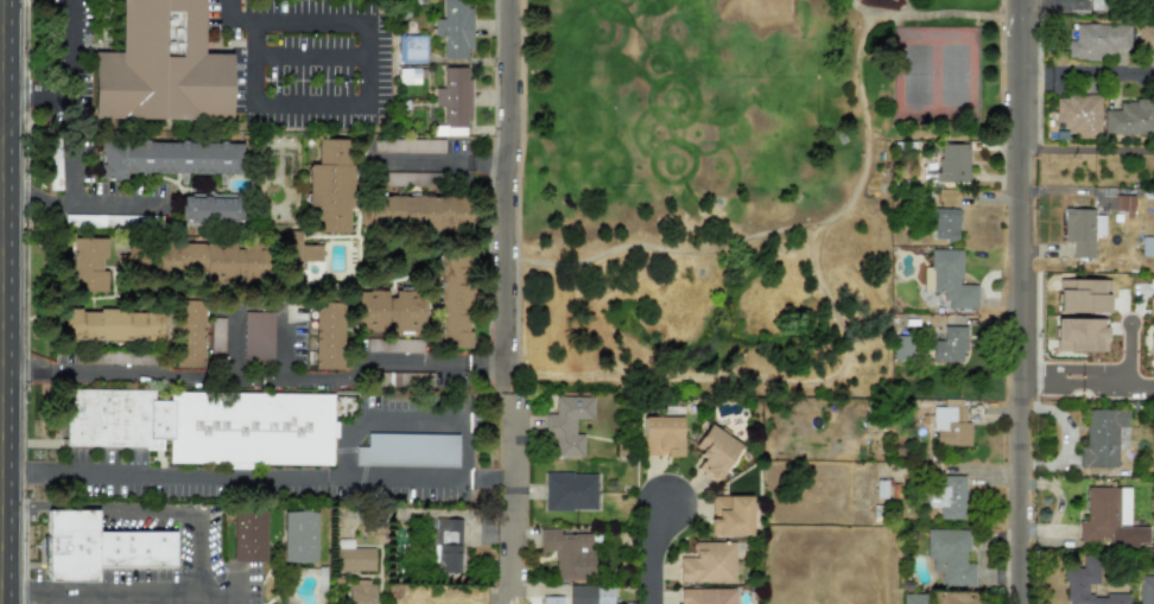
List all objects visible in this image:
road: (852, 2)
road: (926, 15)
building: (455, 27)
building: (1146, 37)
building: (1097, 39)
building: (411, 49)
road: (297, 51)
building: (160, 66)
park: (917, 72)
park: (953, 72)
road: (376, 74)
building: (408, 75)
road: (1088, 78)
road: (75, 83)
building: (454, 94)
building: (1078, 114)
building: (1130, 119)
building: (405, 145)
road: (1031, 147)
road: (1097, 148)
building: (167, 158)
building: (952, 161)
road: (446, 163)
building: (53, 179)
park: (727, 183)
building: (330, 184)
road: (74, 185)
road: (509, 193)
building: (1123, 202)
road: (109, 203)
building: (210, 210)
building: (413, 211)
building: (945, 223)
road: (778, 230)
building: (1082, 230)
building: (304, 252)
building: (216, 260)
building: (87, 263)
building: (947, 279)
building: (1083, 295)
building: (454, 301)
road: (1020, 301)
building: (387, 311)
building: (112, 325)
building: (188, 333)
building: (243, 333)
building: (328, 335)
road: (233, 345)
building: (394, 345)
building: (949, 345)
building: (1150, 345)
road: (280, 348)
building: (901, 348)
road: (1127, 352)
road: (1051, 368)
road: (255, 375)
road: (1105, 376)
road: (1129, 382)
road: (1051, 384)
building: (203, 424)
building: (568, 424)
building: (950, 426)
building: (661, 435)
building: (1103, 438)
road: (345, 449)
building: (407, 450)
building: (715, 451)
road: (169, 476)
road: (509, 476)
building: (569, 491)
building: (947, 496)
building: (729, 515)
building: (1109, 519)
building: (247, 536)
building: (298, 536)
building: (96, 541)
building: (446, 545)
road: (649, 552)
road: (207, 553)
building: (569, 553)
building: (353, 557)
building: (950, 557)
building: (708, 562)
building: (1080, 576)
road: (503, 580)
building: (1146, 590)
building: (589, 595)
building: (705, 596)
building: (552, 599)
road: (128, 603)

